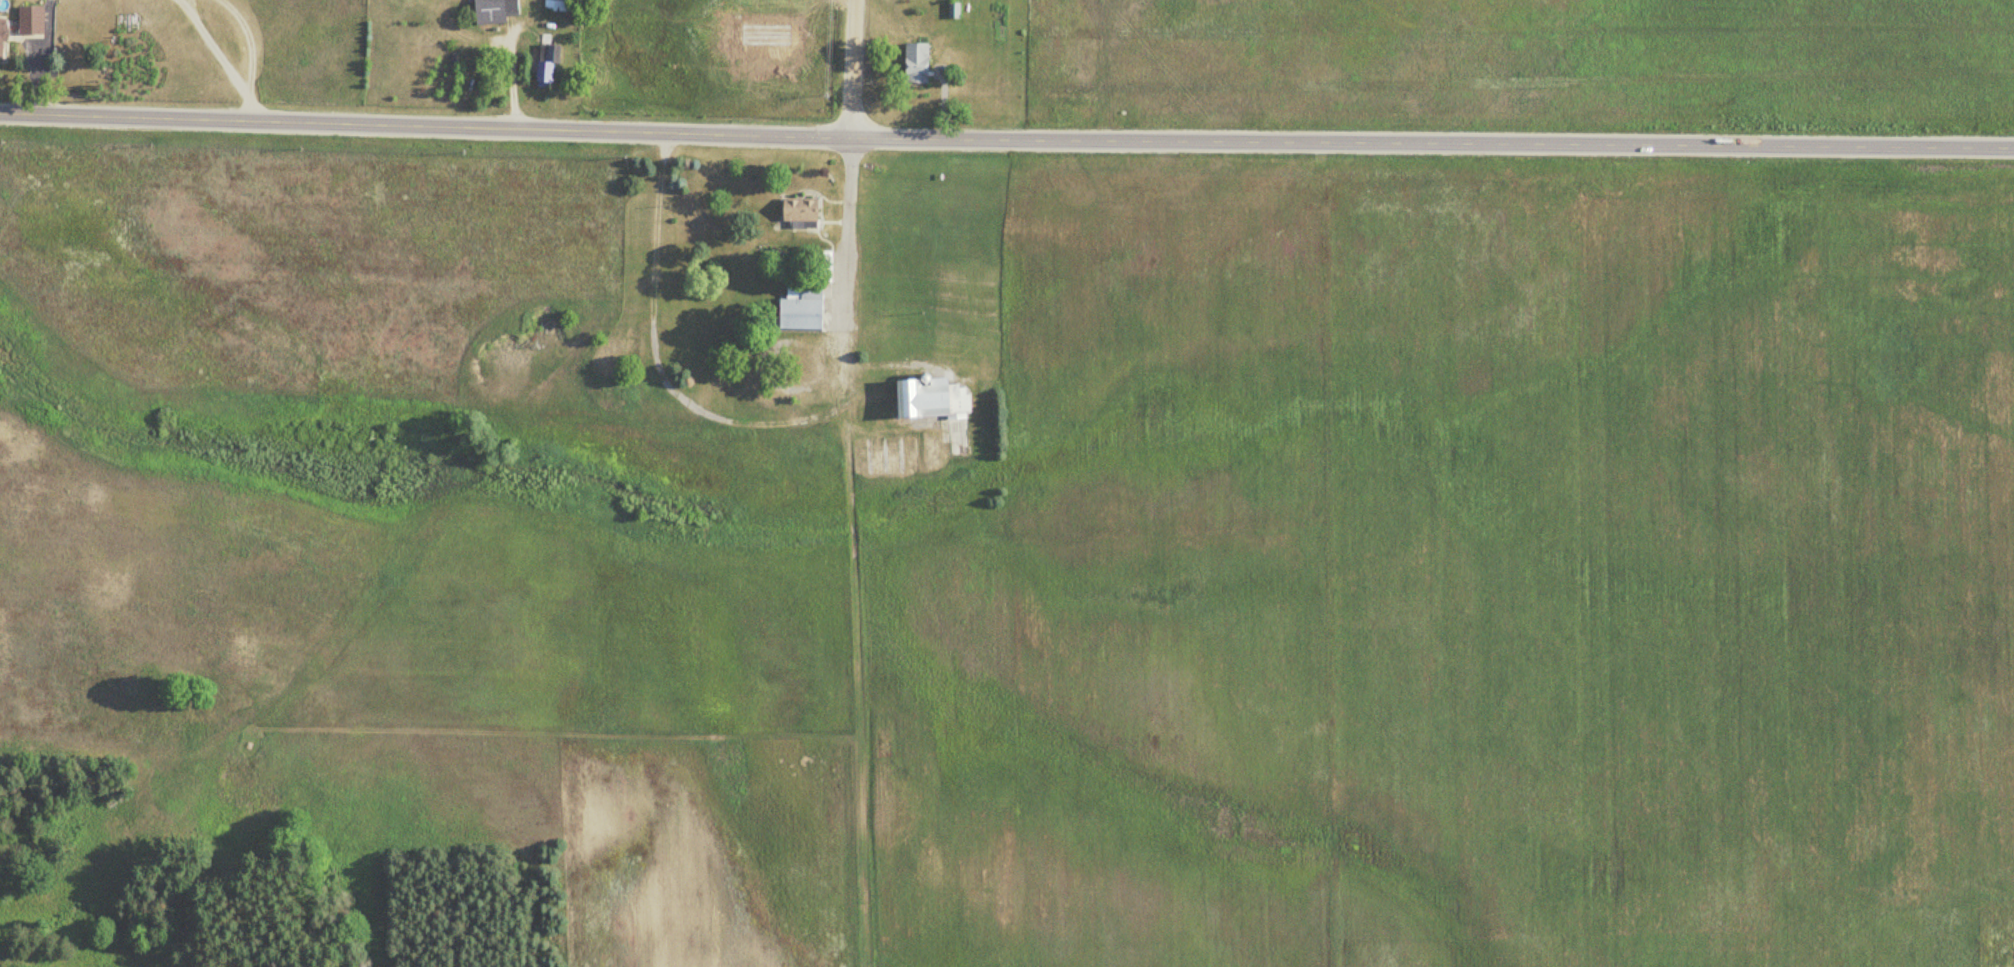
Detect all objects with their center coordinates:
building: (951, 10)
building: (491, 11)
building: (27, 19)
building: (0, 22)
building: (912, 63)
building: (543, 64)
road: (854, 68)
road: (1006, 138)
building: (794, 210)
building: (801, 298)
building: (927, 398)
building: (903, 460)
crop: (1466, 584)
building: (882, 740)

